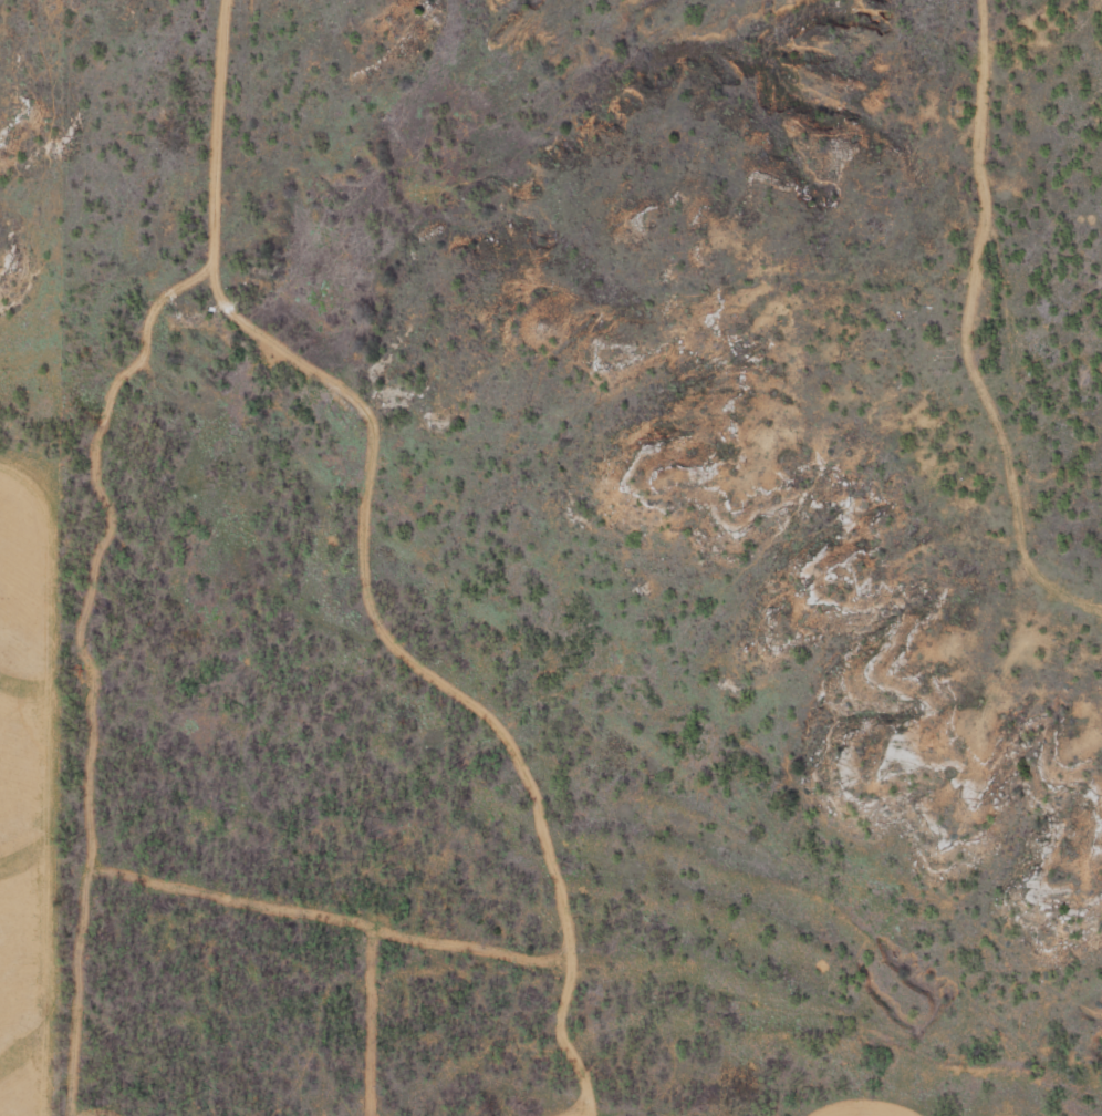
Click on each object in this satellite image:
road: (945, 130)
road: (200, 168)
road: (52, 763)

